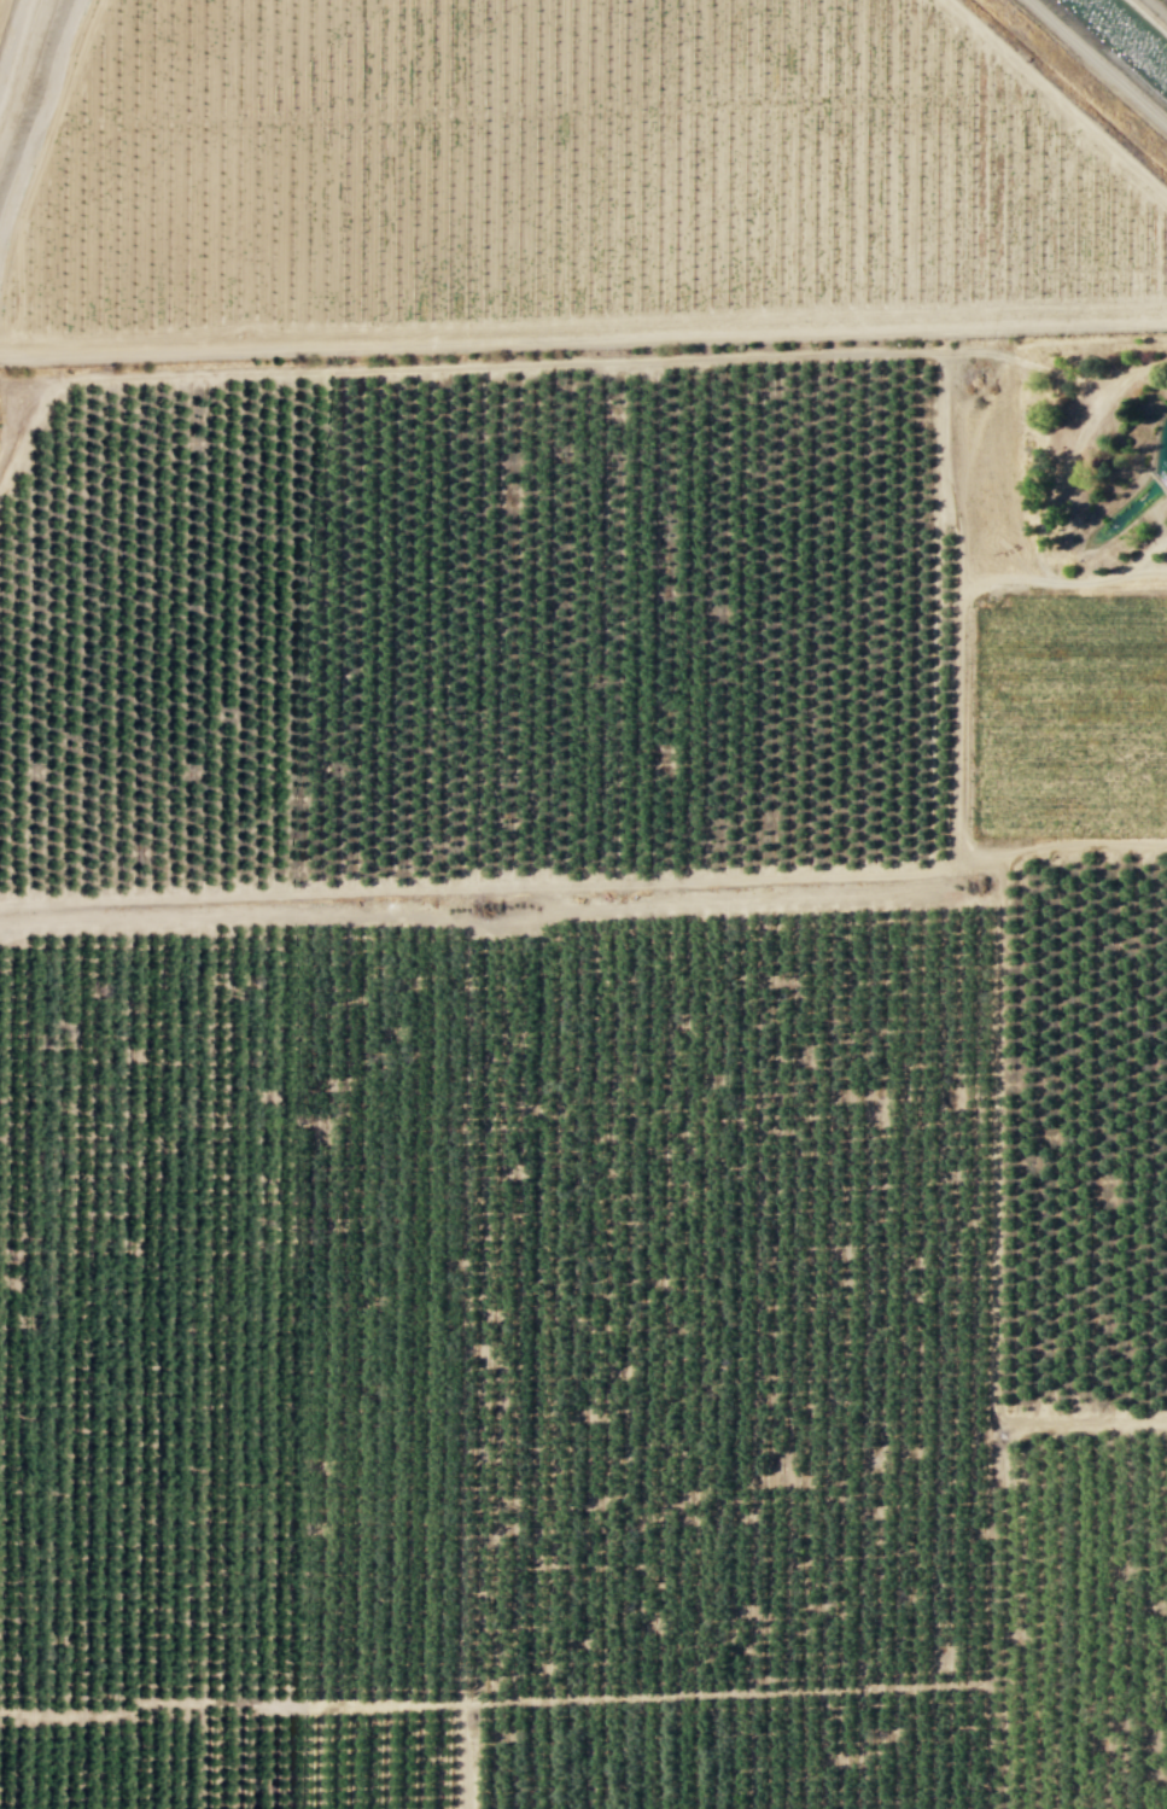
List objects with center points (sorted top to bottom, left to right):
road: (1156, 8)
road: (7, 25)
road: (1054, 103)
crop: (544, 180)
road: (583, 340)
road: (696, 358)
road: (1031, 366)
road: (1068, 456)
road: (1142, 555)
road: (1062, 584)
crop: (1057, 723)
road: (1083, 842)
road: (984, 862)
road: (483, 888)
road: (519, 918)
road: (994, 1241)
road: (993, 1546)
road: (786, 1691)
road: (228, 1702)
road: (462, 1756)

